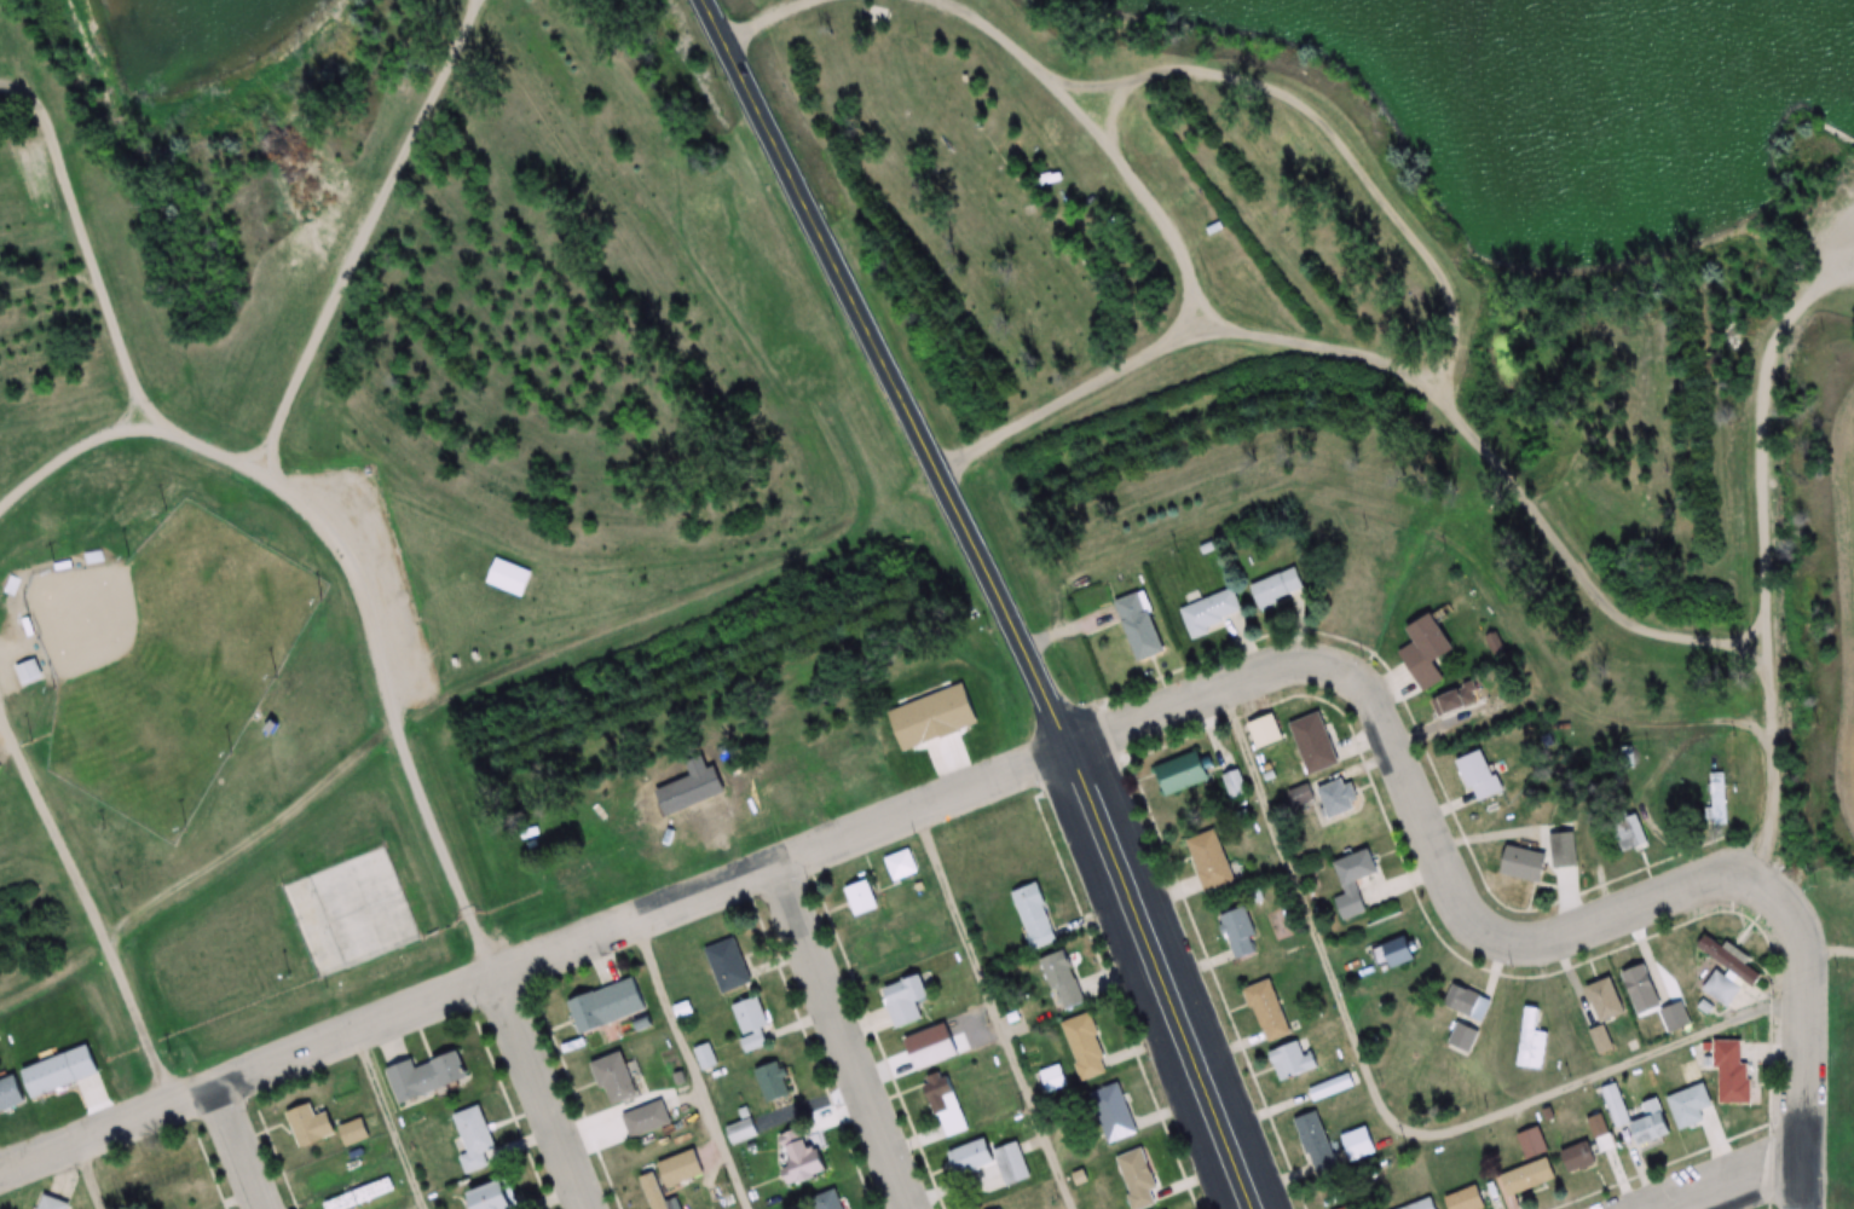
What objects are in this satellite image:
road: (757, 12)
road: (720, 13)
road: (16, 77)
building: (994, 131)
road: (1109, 144)
road: (1329, 145)
road: (77, 207)
building: (1064, 227)
road: (358, 231)
road: (46, 270)
road: (1397, 357)
road: (353, 567)
building: (508, 578)
building: (1278, 588)
road: (1009, 609)
building: (1212, 614)
building: (1140, 626)
building: (1428, 650)
park: (160, 660)
building: (27, 671)
building: (1454, 700)
building: (1313, 744)
road: (1769, 744)
building: (1183, 773)
building: (1479, 776)
building: (1234, 786)
building: (1300, 796)
building: (1716, 797)
building: (1336, 799)
road: (940, 808)
road: (50, 811)
road: (258, 829)
building: (1631, 832)
building: (1560, 849)
building: (1209, 860)
building: (900, 863)
building: (1524, 863)
building: (1352, 881)
building: (861, 897)
building: (1034, 915)
building: (1237, 932)
building: (884, 941)
building: (1711, 948)
building: (1397, 951)
building: (726, 965)
building: (1062, 980)
building: (1719, 987)
building: (1640, 989)
building: (905, 999)
building: (1605, 1000)
building: (1467, 1001)
building: (607, 1006)
building: (1267, 1011)
road: (987, 1014)
road: (135, 1016)
building: (1674, 1018)
building: (751, 1024)
building: (1463, 1036)
building: (1600, 1040)
road: (836, 1041)
building: (1531, 1041)
building: (1084, 1047)
building: (928, 1052)
building: (704, 1057)
building: (1289, 1060)
building: (62, 1068)
road: (686, 1069)
building: (1735, 1070)
building: (428, 1077)
building: (616, 1077)
building: (1052, 1078)
building: (772, 1081)
building: (11, 1094)
road: (543, 1095)
building: (945, 1104)
building: (1111, 1113)
building: (1671, 1117)
building: (645, 1120)
road: (387, 1123)
building: (311, 1124)
building: (740, 1130)
building: (354, 1132)
building: (475, 1139)
building: (1315, 1143)
building: (1358, 1144)
building: (1532, 1144)
road: (216, 1153)
building: (1578, 1158)
building: (803, 1163)
building: (988, 1167)
building: (1136, 1178)
road: (83, 1179)
building: (671, 1179)
building: (1527, 1179)
road: (1761, 1191)
building: (360, 1194)
building: (497, 1197)
building: (1465, 1199)
building: (825, 1201)
building: (53, 1203)
building: (1422, 1205)
building: (1351, 1207)
building: (1005, 1208)

